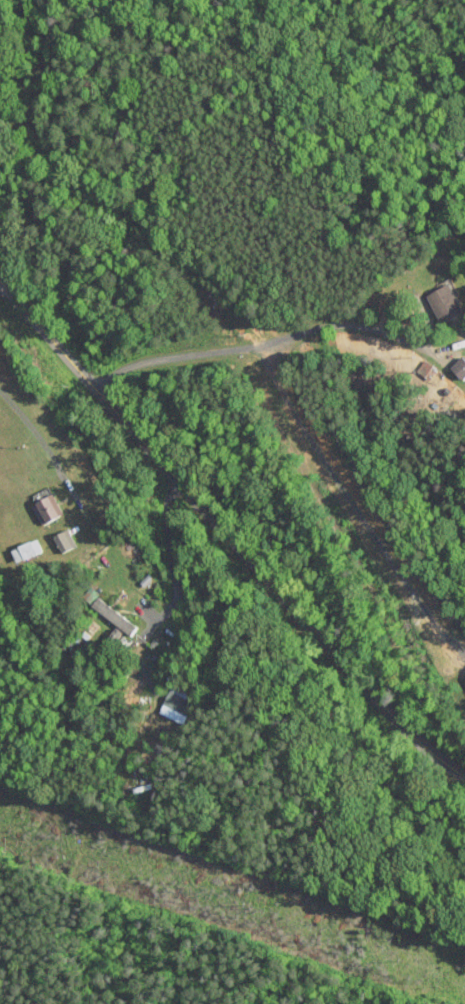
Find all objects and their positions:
road: (273, 340)
road: (76, 491)
road: (228, 536)

